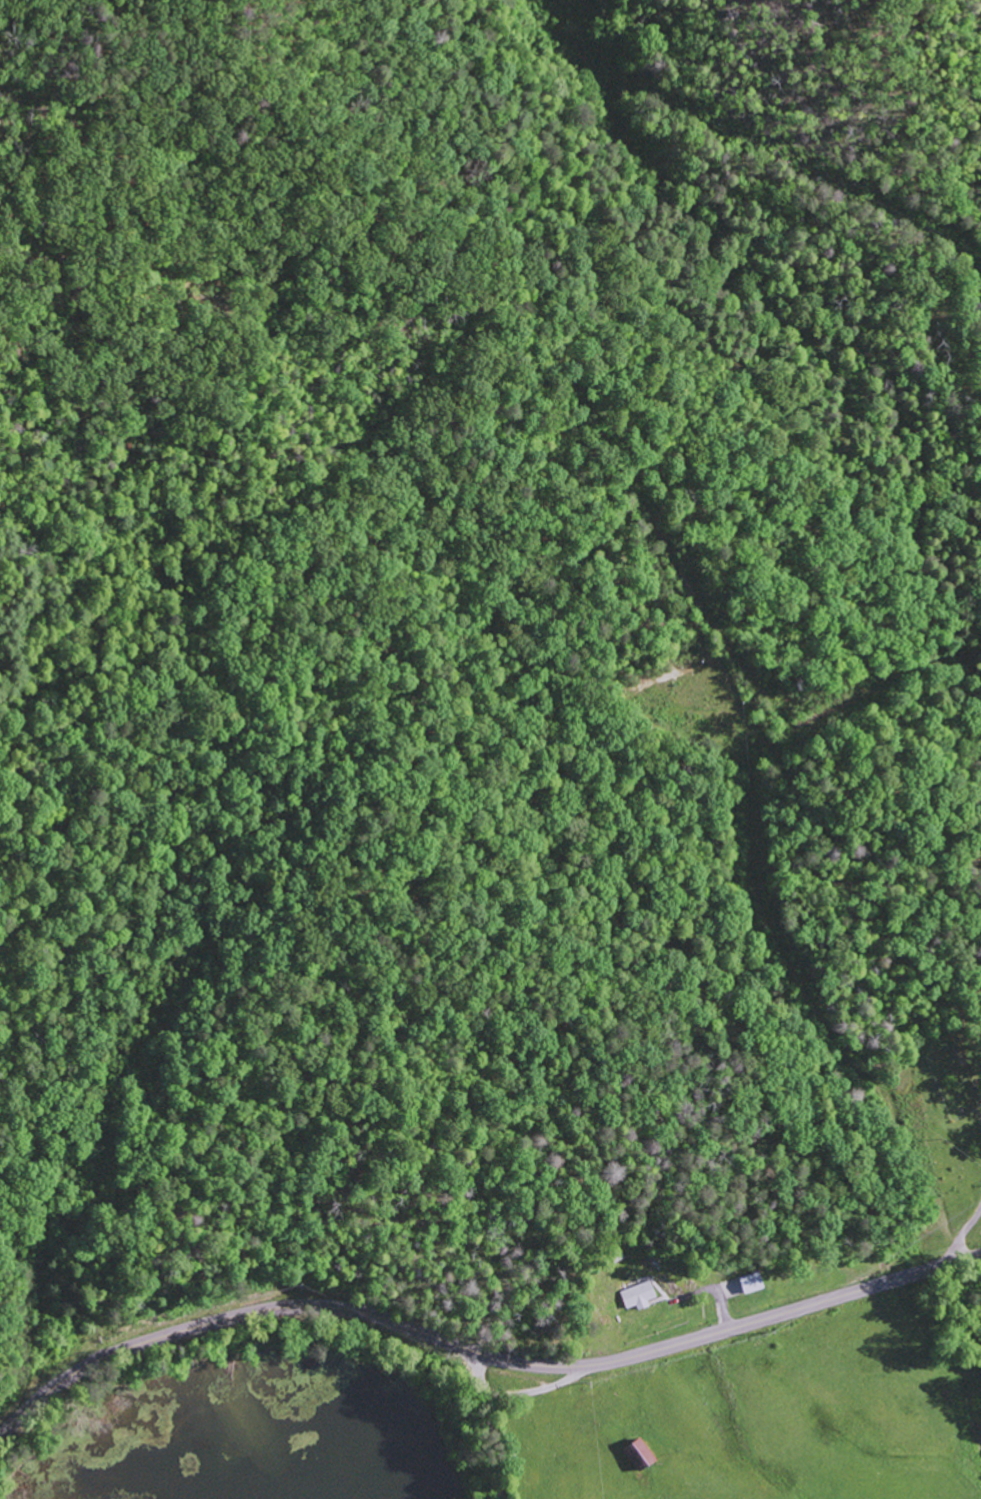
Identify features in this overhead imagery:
park: (974, 269)
road: (878, 386)
park: (957, 1075)
road: (965, 1208)
building: (750, 1282)
building: (638, 1295)
road: (718, 1303)
road: (479, 1350)
road: (541, 1390)
road: (492, 1423)
building: (642, 1455)

